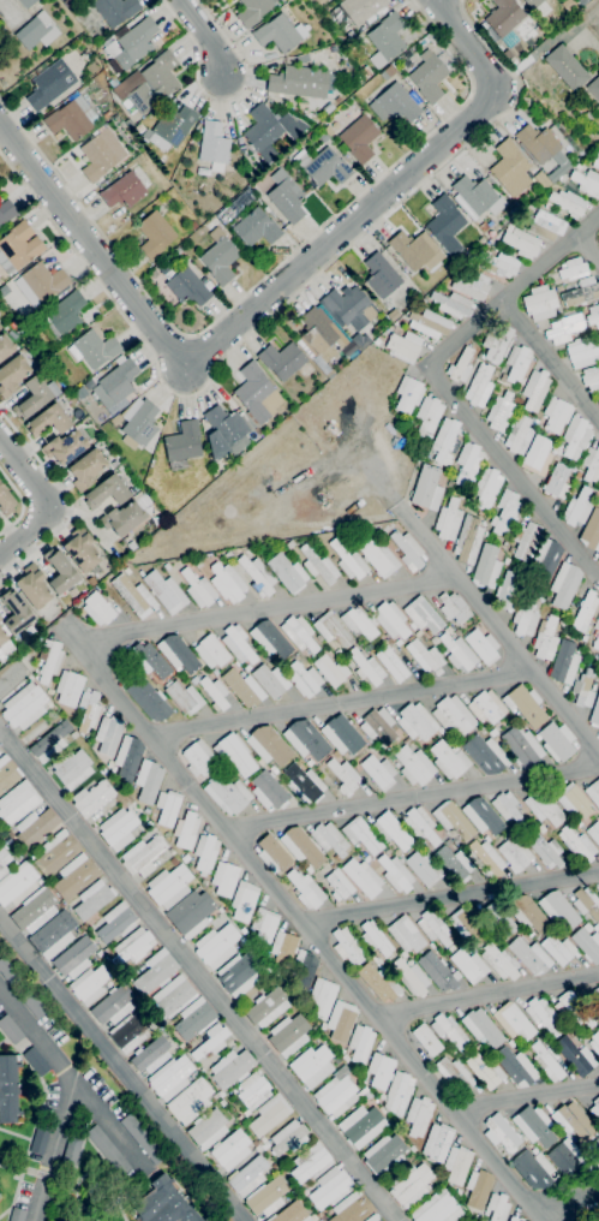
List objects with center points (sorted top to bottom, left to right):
building: (582, 1)
building: (67, 2)
building: (26, 4)
building: (538, 6)
building: (115, 10)
building: (357, 10)
building: (253, 11)
building: (505, 19)
building: (369, 23)
building: (539, 29)
building: (37, 31)
road: (204, 34)
building: (277, 34)
building: (385, 40)
building: (133, 42)
building: (321, 56)
building: (567, 67)
building: (366, 71)
building: (387, 72)
building: (429, 76)
building: (300, 82)
building: (50, 83)
building: (154, 83)
building: (594, 88)
road: (223, 99)
building: (281, 102)
building: (272, 105)
building: (395, 105)
building: (107, 114)
building: (587, 115)
building: (72, 118)
building: (128, 123)
building: (174, 125)
building: (262, 127)
building: (139, 129)
building: (323, 136)
building: (359, 138)
building: (214, 143)
building: (538, 143)
building: (269, 154)
building: (97, 157)
building: (597, 162)
building: (323, 166)
building: (510, 167)
building: (559, 171)
building: (586, 181)
building: (124, 190)
building: (479, 196)
building: (286, 197)
building: (569, 202)
building: (235, 206)
building: (549, 206)
building: (6, 212)
building: (447, 225)
building: (192, 226)
building: (484, 226)
building: (546, 226)
building: (257, 227)
building: (155, 234)
building: (521, 242)
building: (18, 246)
road: (588, 246)
building: (598, 249)
building: (417, 250)
building: (220, 257)
building: (501, 264)
building: (574, 269)
building: (382, 275)
road: (260, 280)
building: (40, 284)
building: (471, 284)
building: (186, 286)
road: (513, 288)
road: (271, 290)
building: (581, 292)
building: (540, 303)
building: (453, 304)
building: (351, 308)
road: (276, 309)
building: (66, 312)
building: (593, 316)
building: (429, 323)
building: (0, 326)
building: (379, 327)
building: (564, 328)
building: (323, 334)
building: (377, 341)
building: (498, 341)
building: (405, 346)
building: (5, 347)
building: (94, 349)
building: (582, 352)
road: (551, 356)
building: (284, 361)
building: (517, 363)
building: (460, 367)
building: (12, 375)
building: (591, 379)
building: (115, 383)
building: (90, 385)
building: (479, 386)
building: (535, 389)
building: (257, 394)
building: (408, 394)
building: (598, 395)
building: (32, 398)
building: (598, 399)
building: (501, 412)
building: (557, 415)
building: (429, 417)
building: (116, 419)
building: (49, 421)
building: (139, 423)
building: (227, 431)
building: (258, 431)
building: (519, 435)
building: (576, 437)
building: (447, 441)
building: (182, 445)
building: (65, 447)
building: (538, 455)
building: (468, 463)
building: (591, 464)
building: (86, 469)
road: (514, 471)
building: (557, 481)
building: (486, 487)
building: (427, 488)
building: (598, 489)
building: (107, 492)
road: (38, 496)
road: (70, 498)
building: (6, 501)
road: (22, 504)
building: (577, 507)
building: (505, 512)
building: (126, 516)
building: (449, 520)
building: (591, 531)
building: (486, 535)
building: (468, 540)
building: (526, 541)
building: (505, 543)
building: (511, 549)
building: (80, 550)
building: (408, 550)
building: (377, 555)
building: (545, 560)
building: (348, 561)
building: (507, 561)
building: (318, 565)
building: (486, 567)
building: (60, 571)
building: (287, 572)
building: (258, 576)
building: (91, 582)
building: (227, 583)
building: (564, 584)
building: (34, 586)
building: (199, 589)
building: (508, 590)
building: (166, 591)
building: (134, 596)
building: (454, 607)
building: (98, 608)
road: (264, 610)
building: (585, 610)
building: (16, 612)
building: (423, 615)
building: (526, 617)
building: (0, 619)
building: (391, 619)
building: (360, 624)
building: (563, 624)
building: (597, 624)
building: (0, 626)
road: (498, 629)
building: (30, 630)
building: (333, 630)
building: (299, 633)
building: (2, 637)
building: (270, 639)
building: (545, 639)
building: (399, 643)
building: (597, 643)
building: (238, 644)
building: (483, 647)
building: (215, 650)
building: (580, 650)
building: (337, 653)
building: (459, 653)
building: (178, 654)
building: (426, 656)
building: (586, 657)
building: (49, 660)
building: (149, 660)
building: (564, 662)
building: (393, 665)
building: (366, 667)
building: (247, 668)
building: (328, 671)
building: (304, 679)
building: (194, 680)
building: (271, 680)
building: (244, 687)
building: (68, 689)
building: (583, 689)
building: (49, 691)
building: (215, 692)
building: (185, 697)
building: (149, 699)
road: (341, 701)
building: (526, 704)
building: (24, 705)
building: (486, 707)
building: (89, 710)
building: (454, 715)
building: (594, 715)
building: (417, 721)
building: (378, 726)
building: (441, 731)
building: (483, 731)
building: (493, 733)
building: (108, 734)
building: (342, 734)
building: (50, 738)
building: (306, 739)
building: (497, 740)
building: (557, 741)
building: (269, 745)
building: (522, 746)
building: (336, 754)
building: (235, 755)
building: (485, 755)
building: (128, 757)
building: (199, 758)
building: (449, 760)
building: (260, 761)
building: (310, 763)
building: (110, 764)
building: (414, 764)
building: (72, 768)
building: (113, 769)
building: (274, 769)
building: (379, 772)
building: (7, 773)
building: (232, 774)
building: (343, 775)
building: (148, 781)
building: (304, 784)
building: (269, 791)
building: (122, 792)
building: (227, 793)
building: (593, 793)
road: (411, 794)
building: (92, 798)
building: (575, 802)
building: (18, 803)
building: (505, 805)
building: (544, 806)
building: (168, 808)
building: (483, 816)
building: (453, 820)
building: (149, 823)
building: (420, 824)
building: (35, 827)
building: (118, 829)
building: (541, 829)
building: (549, 829)
building: (579, 829)
building: (186, 830)
building: (391, 830)
building: (594, 832)
building: (510, 833)
building: (167, 834)
building: (361, 835)
building: (10, 840)
building: (330, 840)
building: (577, 845)
building: (301, 846)
building: (172, 851)
building: (546, 851)
building: (56, 852)
building: (205, 853)
building: (272, 853)
building: (515, 854)
building: (142, 856)
building: (30, 857)
building: (185, 858)
building: (487, 858)
building: (4, 862)
building: (174, 862)
building: (330, 862)
building: (454, 864)
building: (424, 868)
building: (309, 870)
building: (396, 874)
building: (76, 876)
building: (224, 878)
building: (361, 878)
building: (50, 881)
building: (17, 885)
building: (339, 885)
building: (169, 886)
road: (277, 889)
building: (306, 889)
building: (598, 894)
building: (94, 899)
building: (244, 901)
building: (587, 903)
building: (61, 905)
building: (35, 910)
building: (220, 910)
building: (558, 910)
building: (191, 913)
building: (528, 913)
building: (499, 919)
building: (116, 923)
building: (468, 924)
building: (85, 927)
building: (264, 927)
building: (597, 927)
building: (433, 928)
building: (80, 930)
building: (244, 931)
building: (598, 931)
building: (529, 933)
building: (53, 935)
building: (406, 935)
building: (375, 939)
building: (244, 940)
building: (587, 943)
building: (431, 945)
building: (132, 946)
building: (217, 946)
building: (348, 946)
building: (451, 948)
building: (283, 949)
building: (559, 949)
building: (104, 952)
building: (100, 953)
building: (529, 955)
building: (74, 958)
building: (106, 959)
building: (373, 959)
building: (379, 960)
building: (501, 961)
building: (469, 965)
building: (8, 971)
building: (303, 971)
building: (438, 971)
building: (155, 972)
building: (240, 973)
road: (199, 976)
building: (412, 977)
building: (379, 982)
building: (90, 984)
building: (173, 995)
building: (322, 997)
building: (290, 1000)
building: (137, 1001)
building: (595, 1002)
building: (34, 1003)
road: (430, 1003)
building: (113, 1005)
building: (268, 1008)
building: (574, 1009)
building: (545, 1015)
building: (194, 1019)
building: (341, 1020)
building: (514, 1022)
building: (157, 1024)
building: (323, 1026)
building: (481, 1028)
building: (11, 1030)
building: (450, 1031)
building: (130, 1032)
building: (288, 1035)
building: (427, 1040)
building: (211, 1042)
building: (547, 1042)
building: (594, 1042)
building: (360, 1043)
building: (511, 1043)
building: (182, 1046)
building: (341, 1052)
building: (454, 1052)
building: (151, 1055)
building: (576, 1056)
building: (345, 1058)
building: (546, 1062)
building: (312, 1066)
building: (516, 1067)
building: (232, 1068)
road: (122, 1070)
building: (203, 1071)
building: (381, 1071)
building: (485, 1071)
building: (194, 1074)
building: (455, 1074)
building: (170, 1078)
road: (74, 1082)
building: (8, 1089)
building: (252, 1092)
building: (337, 1092)
building: (221, 1094)
building: (397, 1094)
building: (369, 1095)
building: (215, 1096)
building: (190, 1101)
building: (223, 1103)
road: (466, 1106)
building: (595, 1109)
building: (383, 1110)
building: (269, 1115)
building: (419, 1115)
building: (573, 1120)
building: (406, 1124)
building: (537, 1124)
building: (361, 1126)
building: (208, 1128)
building: (501, 1133)
building: (143, 1138)
building: (288, 1138)
building: (525, 1138)
building: (42, 1140)
building: (262, 1140)
building: (437, 1142)
building: (265, 1145)
building: (594, 1146)
building: (413, 1148)
building: (72, 1150)
building: (108, 1150)
building: (232, 1150)
road: (55, 1151)
building: (384, 1156)
building: (568, 1161)
building: (311, 1163)
building: (457, 1163)
road: (499, 1165)
building: (533, 1168)
building: (247, 1175)
building: (411, 1184)
building: (330, 1187)
building: (478, 1189)
building: (294, 1191)
building: (459, 1192)
building: (266, 1197)
building: (300, 1198)
road: (565, 1199)
building: (164, 1203)
building: (497, 1207)
building: (352, 1208)
building: (438, 1208)
building: (17, 1214)
building: (293, 1214)
building: (319, 1215)
building: (324, 1217)
building: (478, 1217)
building: (373, 1219)
building: (514, 1219)
building: (203, 1220)
building: (319, 1220)
building: (465, 1220)

